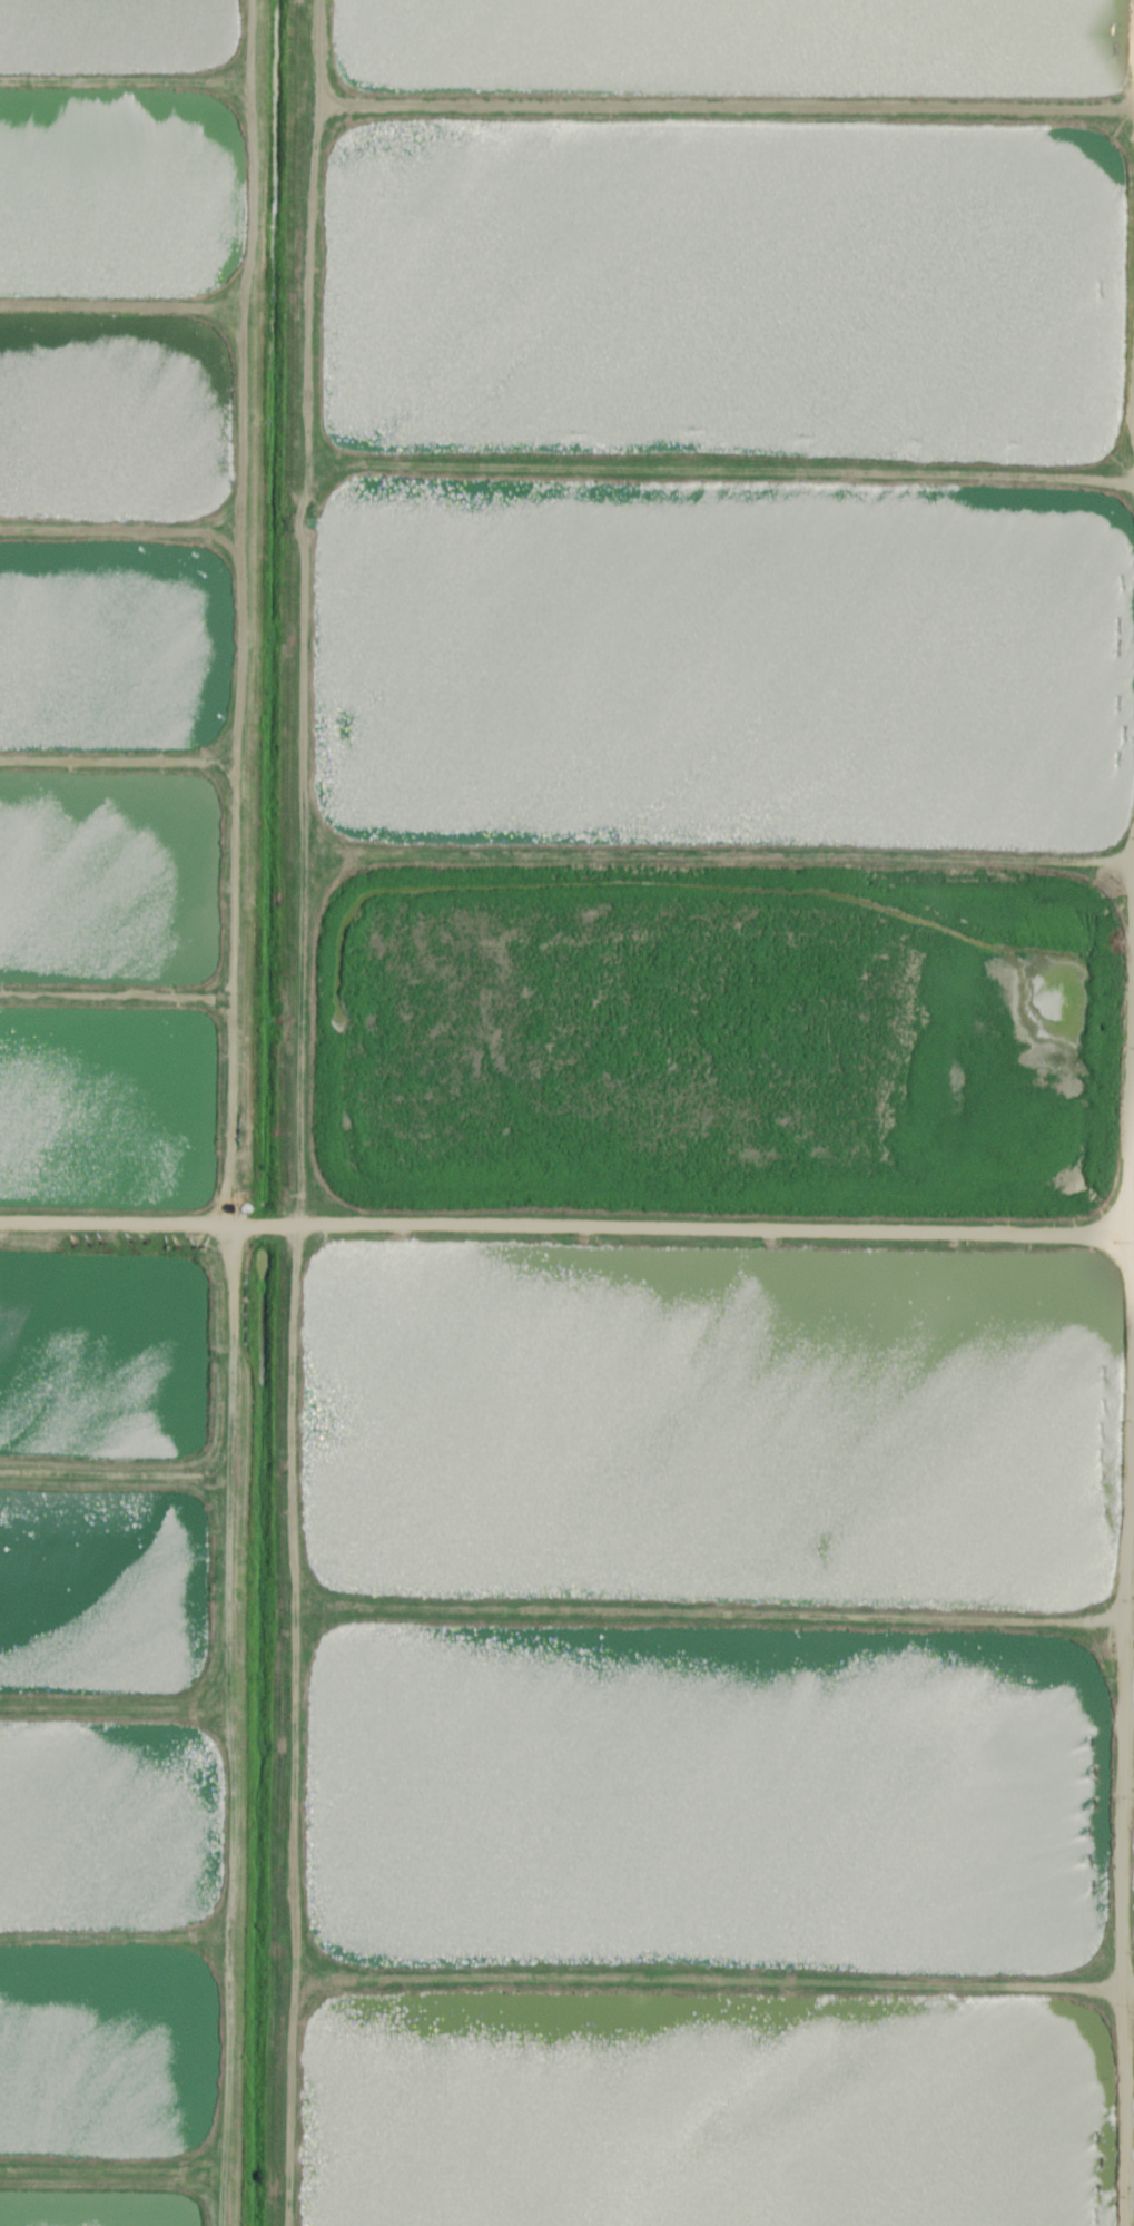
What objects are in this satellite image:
road: (227, 1112)
road: (678, 1226)
road: (1127, 1680)
road: (288, 1723)

